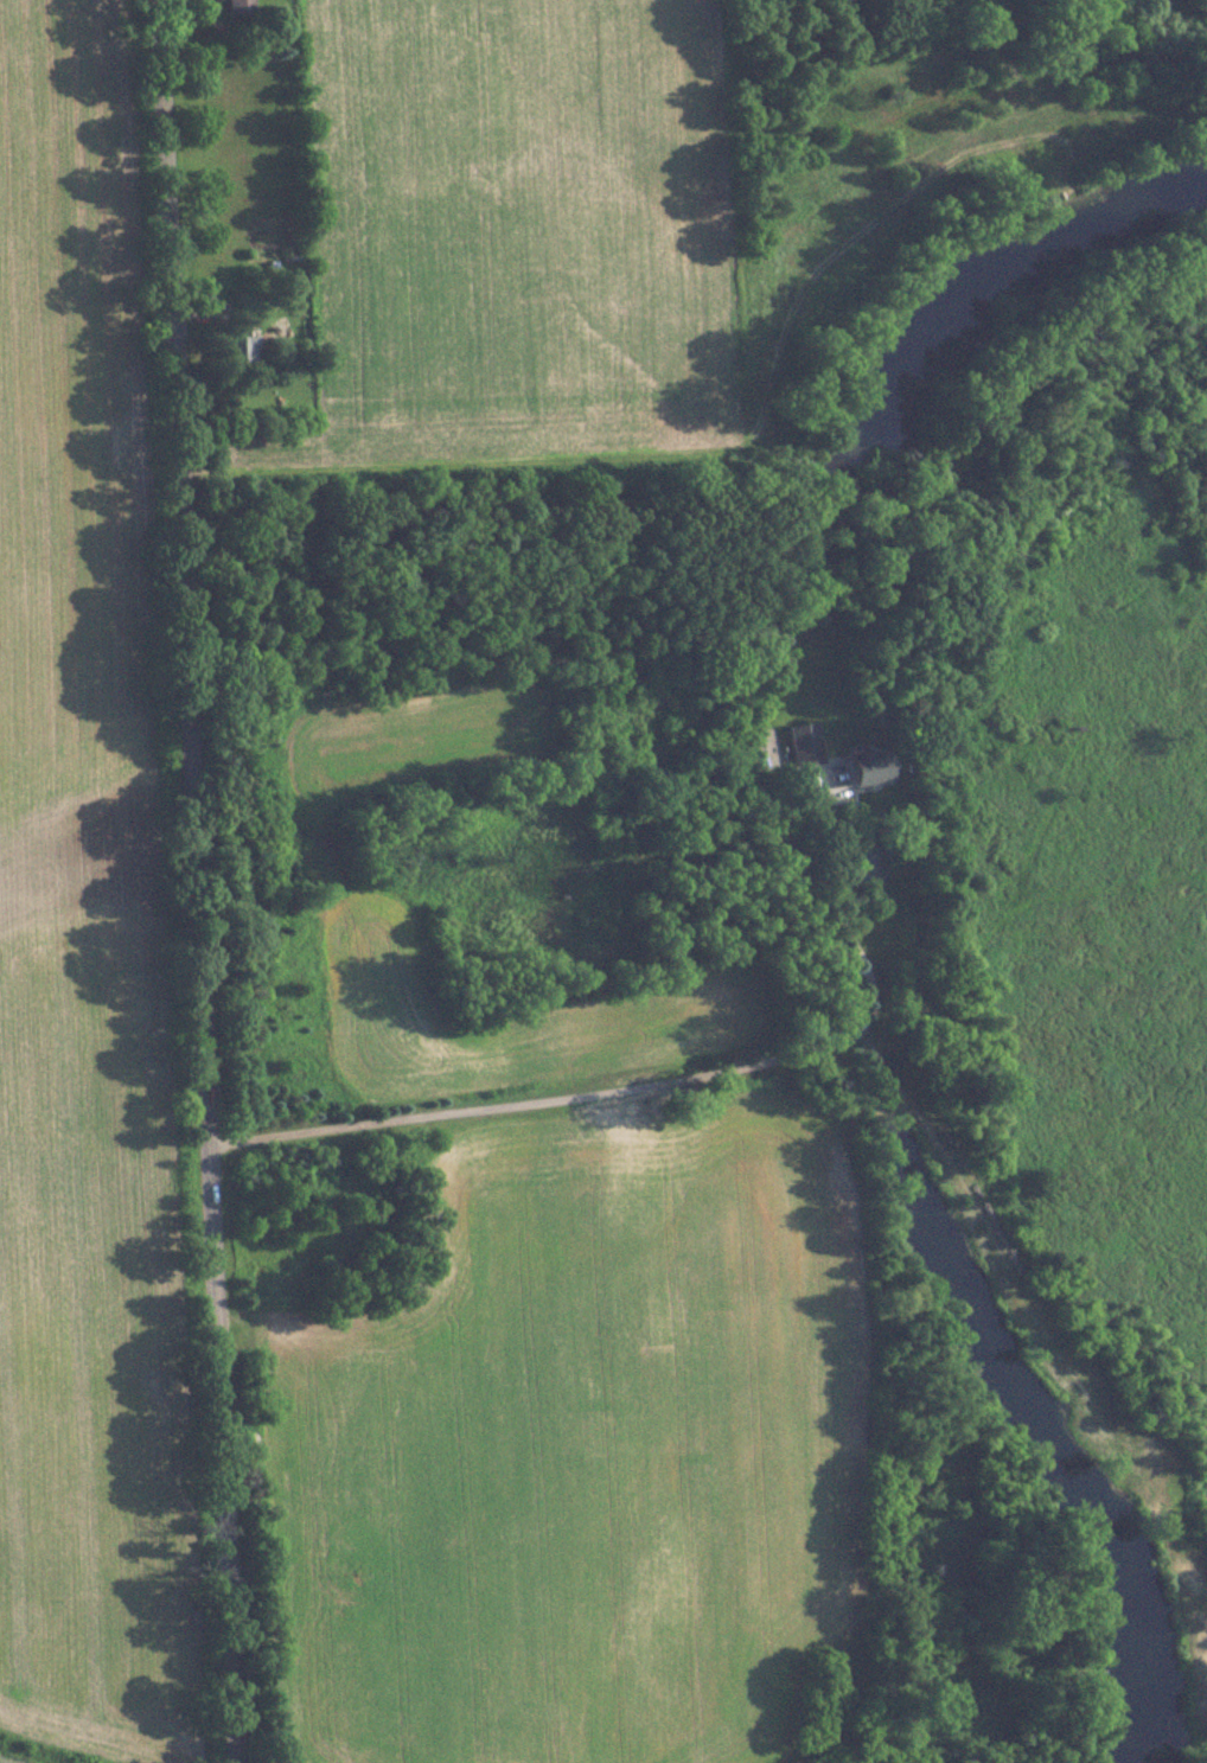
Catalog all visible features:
building: (236, 6)
building: (241, 349)
building: (804, 743)
building: (867, 766)
road: (192, 881)
road: (666, 1084)

